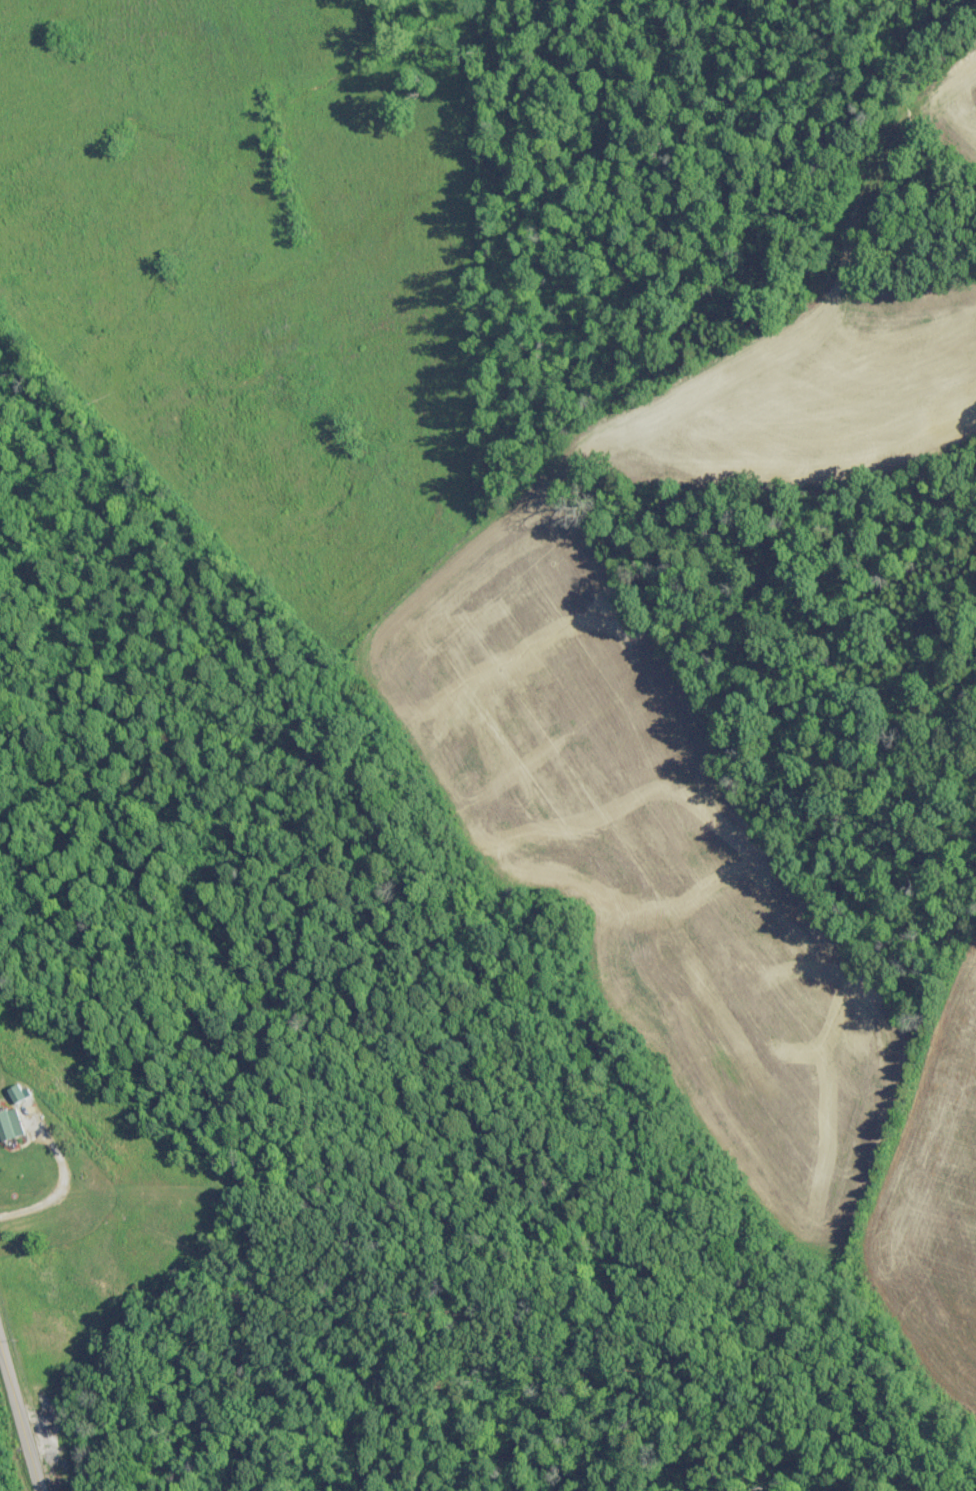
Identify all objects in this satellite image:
building: (21, 1092)
building: (12, 1123)
road: (21, 1410)

